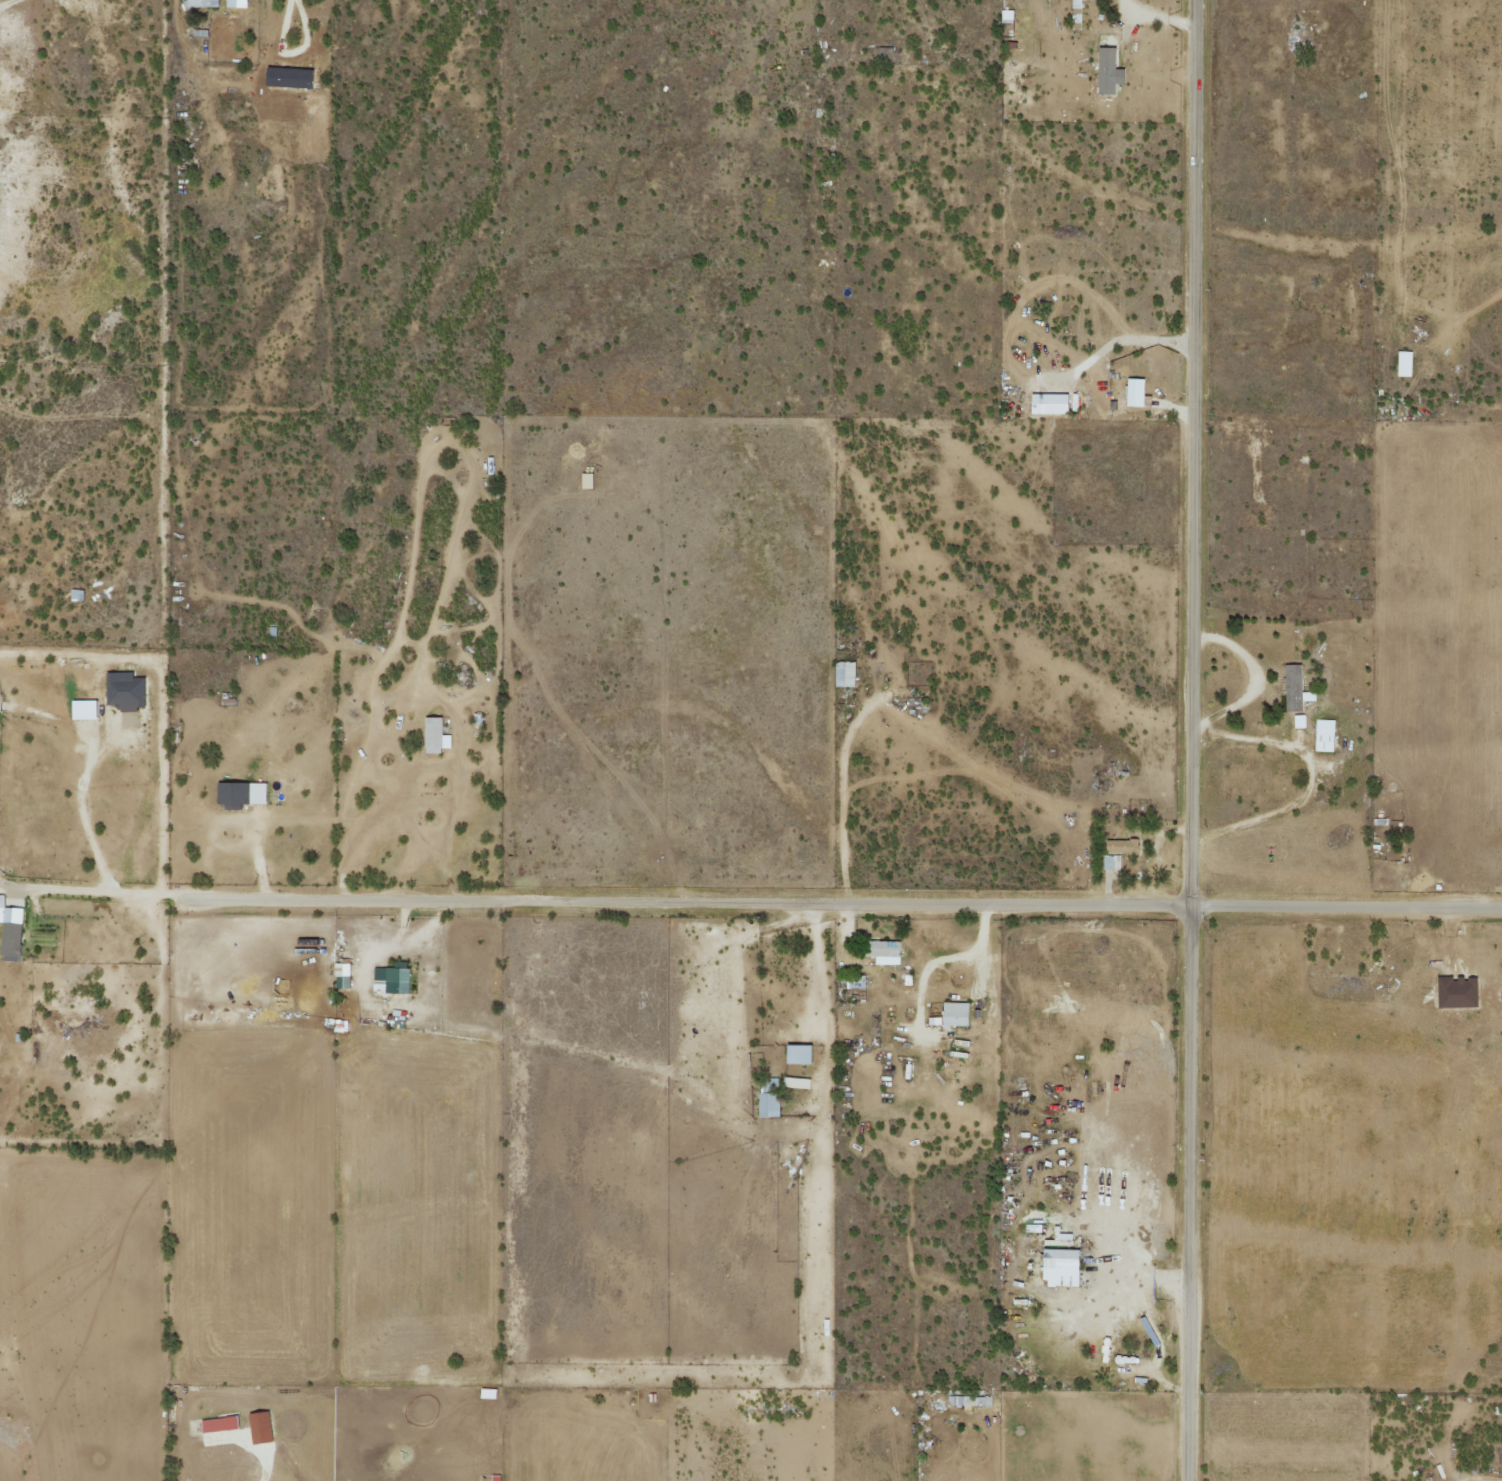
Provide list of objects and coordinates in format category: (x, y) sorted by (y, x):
building: (201, 3)
building: (235, 3)
building: (1075, 14)
building: (1006, 17)
building: (1107, 72)
building: (287, 77)
building: (1403, 364)
building: (1134, 392)
building: (1048, 404)
building: (76, 595)
building: (844, 674)
building: (125, 690)
building: (83, 710)
building: (1299, 721)
building: (432, 735)
building: (1324, 735)
road: (1184, 740)
building: (239, 795)
building: (1123, 846)
building: (1112, 862)
road: (704, 905)
road: (1344, 910)
building: (10, 933)
building: (883, 952)
building: (341, 976)
building: (390, 980)
building: (954, 1015)
building: (797, 1054)
building: (796, 1083)
building: (767, 1106)
building: (1059, 1268)
building: (487, 1394)
building: (970, 1401)
building: (218, 1425)
building: (495, 1477)

